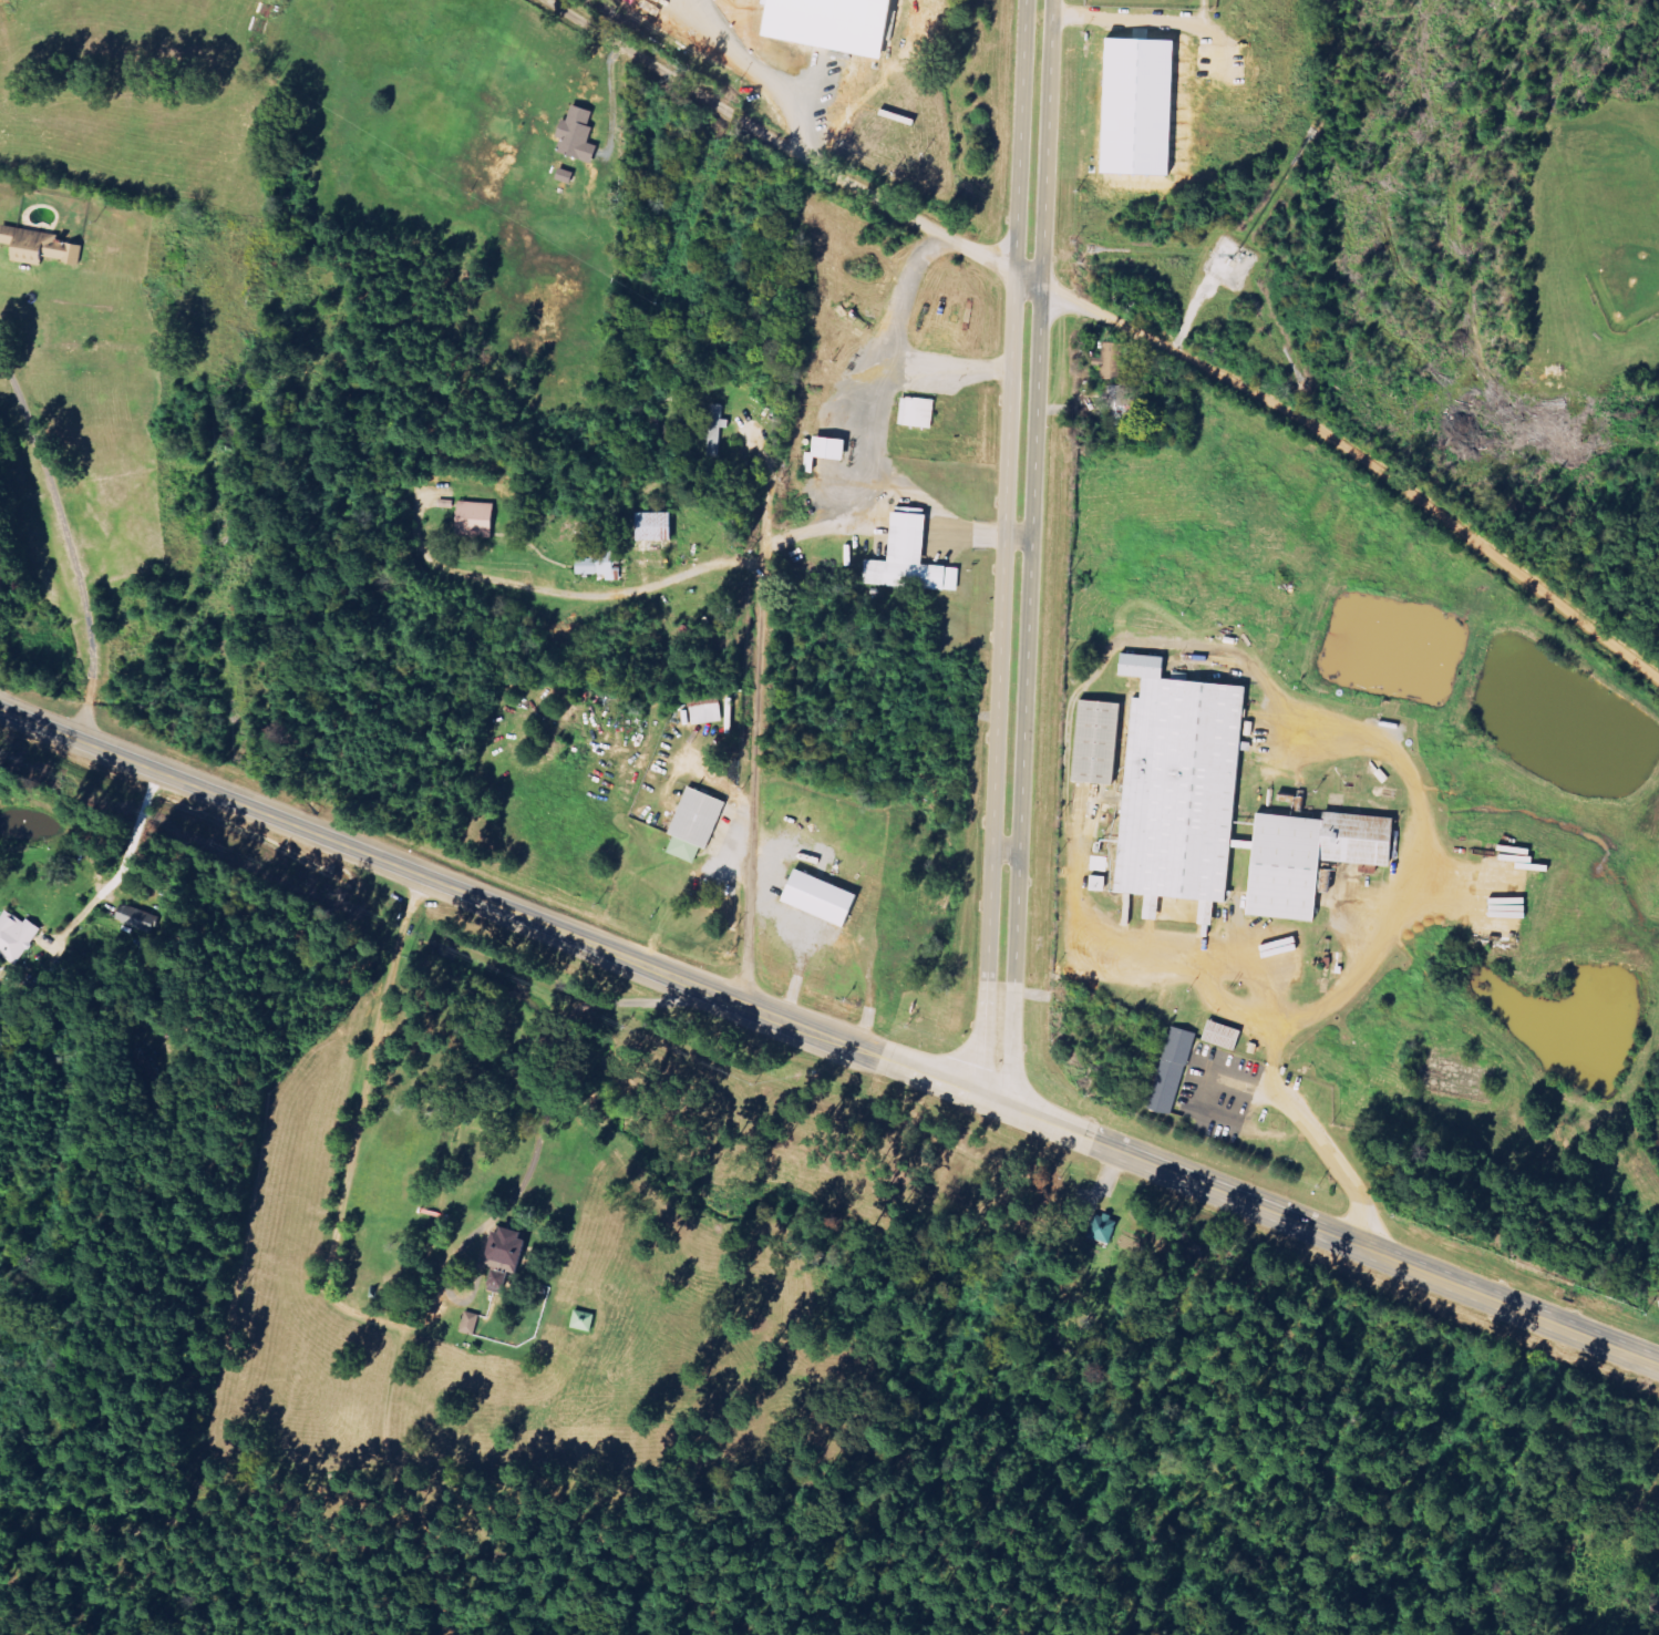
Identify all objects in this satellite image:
building: (841, 24)
building: (1132, 106)
building: (583, 136)
building: (43, 247)
park: (1622, 271)
road: (1102, 315)
building: (1107, 361)
road: (942, 371)
building: (915, 412)
road: (866, 414)
building: (714, 431)
building: (824, 448)
road: (1008, 489)
road: (1033, 490)
building: (471, 520)
building: (649, 526)
road: (1019, 538)
road: (70, 546)
building: (906, 558)
building: (595, 567)
road: (646, 584)
building: (705, 709)
road: (754, 714)
building: (1098, 741)
building: (1179, 788)
building: (691, 824)
road: (131, 831)
road: (1007, 851)
building: (1310, 857)
building: (1094, 883)
road: (439, 884)
building: (814, 897)
building: (14, 936)
building: (1219, 1035)
building: (1172, 1070)
road: (987, 1097)
road: (996, 1099)
road: (1311, 1130)
road: (534, 1149)
road: (1203, 1182)
building: (1099, 1227)
building: (503, 1254)
road: (1485, 1293)
building: (466, 1323)

